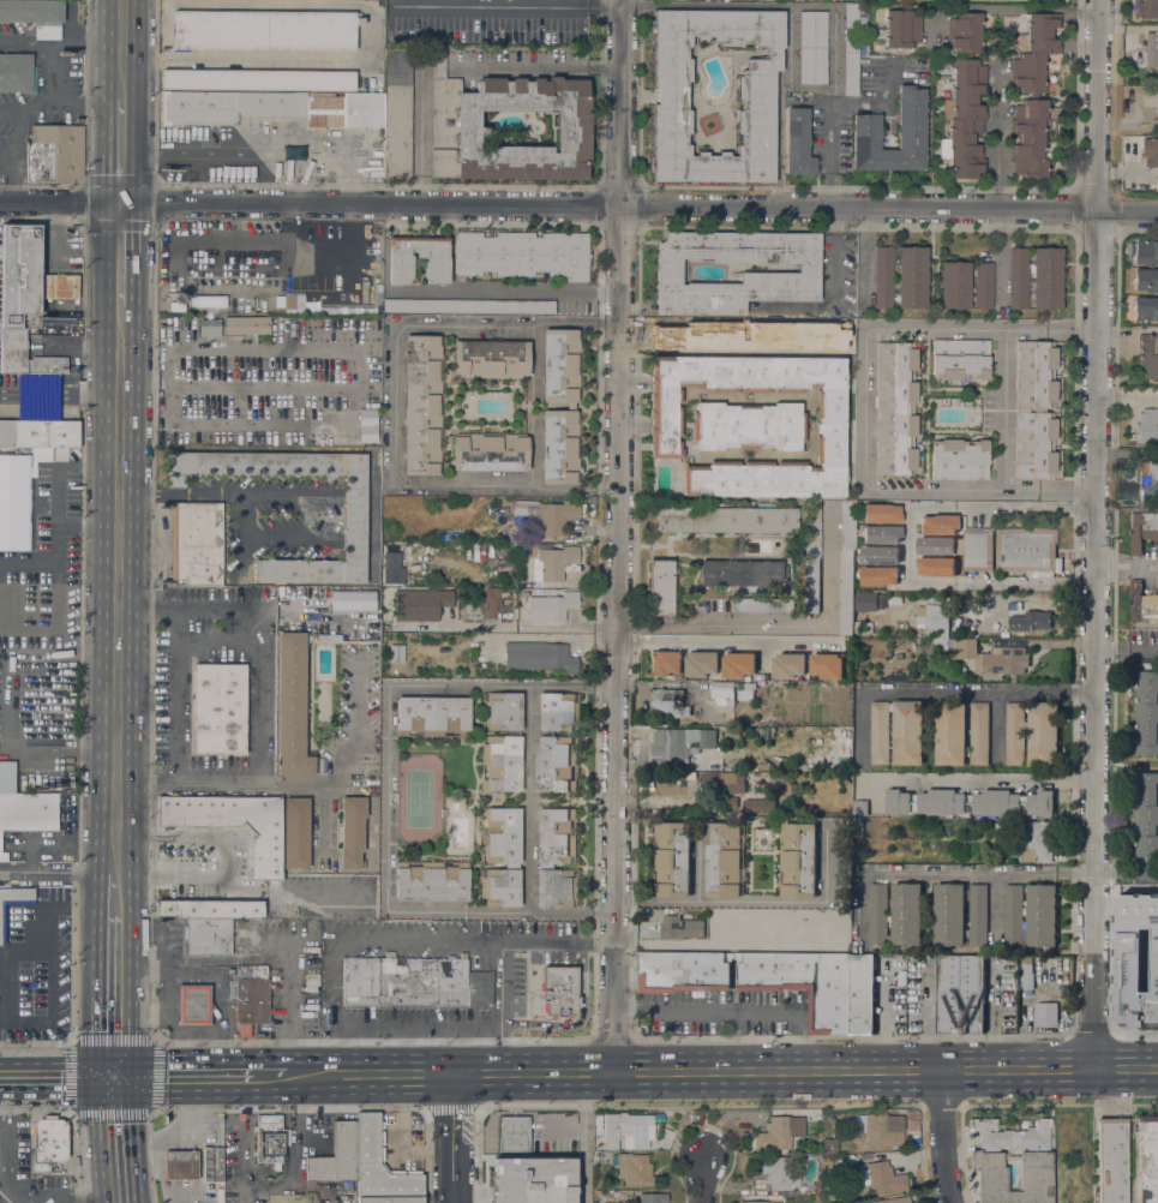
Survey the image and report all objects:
road: (281, 6)
road: (778, 6)
road: (1021, 7)
road: (511, 8)
building: (1146, 8)
building: (36, 16)
building: (902, 29)
building: (264, 30)
parking lot: (14, 31)
building: (965, 32)
road: (71, 35)
road: (88, 36)
road: (26, 42)
building: (812, 48)
building: (1151, 48)
road: (106, 49)
building: (851, 49)
building: (1036, 52)
road: (254, 61)
road: (536, 65)
road: (791, 71)
building: (17, 73)
road: (371, 74)
road: (53, 76)
building: (259, 79)
building: (756, 94)
building: (1150, 100)
road: (137, 101)
road: (26, 106)
road: (78, 106)
road: (829, 106)
building: (272, 108)
building: (397, 112)
building: (964, 118)
building: (455, 119)
building: (866, 122)
road: (19, 134)
building: (1031, 136)
road: (996, 138)
parking lot: (5, 140)
building: (798, 143)
road: (104, 150)
road: (208, 151)
road: (289, 151)
building: (1150, 151)
building: (54, 154)
road: (347, 156)
road: (7, 163)
building: (376, 163)
traffic signals: (104, 174)
road: (11, 181)
building: (1156, 182)
road: (578, 207)
road: (350, 221)
road: (290, 222)
traffic signals: (137, 232)
building: (1145, 252)
road: (137, 255)
building: (522, 255)
road: (174, 257)
building: (401, 259)
road: (1001, 259)
building: (912, 276)
building: (780, 277)
building: (883, 277)
building: (1019, 277)
building: (26, 279)
building: (1046, 279)
building: (1146, 280)
building: (954, 285)
building: (983, 285)
road: (508, 291)
road: (833, 292)
building: (205, 303)
building: (295, 304)
building: (467, 306)
building: (1145, 309)
building: (336, 310)
building: (686, 317)
road: (605, 321)
building: (245, 325)
building: (767, 327)
building: (209, 328)
building: (714, 329)
road: (1073, 329)
road: (1128, 329)
building: (670, 333)
building: (13, 343)
road: (136, 345)
road: (338, 349)
building: (1147, 357)
building: (491, 359)
building: (960, 359)
road: (119, 382)
road: (151, 382)
road: (1129, 396)
road: (50, 403)
road: (394, 403)
road: (864, 403)
road: (136, 405)
building: (422, 405)
building: (571, 406)
building: (895, 408)
road: (1004, 409)
building: (1034, 409)
building: (750, 424)
building: (1147, 424)
building: (367, 425)
road: (119, 427)
building: (38, 433)
building: (490, 451)
building: (959, 459)
building: (1147, 471)
road: (605, 489)
road: (1068, 490)
road: (284, 496)
road: (144, 497)
building: (16, 502)
road: (1031, 507)
building: (877, 514)
building: (547, 515)
building: (724, 519)
building: (354, 521)
building: (937, 525)
building: (1142, 529)
road: (238, 532)
road: (616, 534)
building: (881, 534)
road: (1099, 534)
road: (101, 537)
building: (497, 537)
building: (577, 540)
building: (460, 541)
building: (196, 544)
building: (937, 545)
road: (911, 546)
building: (977, 549)
building: (1026, 550)
building: (881, 555)
building: (812, 556)
building: (552, 562)
building: (391, 564)
road: (1114, 564)
road: (1142, 564)
building: (937, 565)
building: (846, 568)
building: (743, 574)
building: (881, 575)
building: (534, 585)
road: (1031, 586)
building: (660, 587)
building: (353, 600)
building: (866, 601)
building: (420, 604)
building: (762, 604)
building: (1142, 604)
building: (551, 606)
road: (827, 615)
building: (935, 616)
building: (1032, 620)
road: (672, 622)
road: (557, 636)
building: (328, 638)
road: (725, 640)
road: (218, 645)
road: (1128, 650)
building: (396, 653)
building: (540, 657)
building: (990, 658)
building: (664, 664)
building: (701, 664)
building: (738, 665)
building: (790, 665)
building: (827, 665)
building: (745, 688)
road: (1084, 690)
building: (722, 692)
road: (931, 692)
road: (174, 693)
road: (262, 695)
building: (671, 699)
road: (6, 700)
building: (292, 706)
building: (220, 708)
building: (1147, 712)
building: (432, 716)
building: (880, 732)
building: (908, 732)
building: (950, 732)
building: (1014, 732)
building: (979, 734)
building: (1043, 734)
road: (2, 741)
building: (500, 742)
building: (557, 742)
building: (680, 743)
road: (133, 752)
road: (346, 758)
road: (971, 777)
building: (725, 782)
road: (388, 796)
road: (528, 798)
building: (731, 801)
building: (970, 802)
building: (756, 804)
building: (23, 807)
building: (859, 813)
building: (1146, 814)
building: (295, 832)
building: (352, 832)
building: (1034, 842)
building: (500, 856)
building: (556, 856)
building: (672, 860)
building: (725, 860)
building: (798, 860)
building: (244, 866)
road: (48, 872)
road: (115, 873)
road: (953, 874)
road: (1127, 874)
building: (432, 882)
road: (97, 893)
road: (115, 902)
building: (13, 903)
road: (754, 903)
building: (895, 914)
building: (949, 914)
building: (978, 914)
building: (1013, 915)
building: (1042, 915)
building: (751, 917)
building: (680, 928)
road: (28, 935)
building: (206, 936)
road: (397, 936)
road: (500, 953)
building: (1136, 958)
road: (208, 962)
building: (1027, 977)
building: (413, 982)
building: (232, 987)
building: (559, 990)
building: (743, 993)
road: (96, 994)
building: (862, 994)
building: (960, 994)
building: (251, 995)
building: (193, 1005)
gas station: (193, 1005)
road: (284, 1006)
road: (708, 1009)
building: (1045, 1013)
traffic signals: (96, 1030)
road: (336, 1030)
road: (734, 1040)
road: (803, 1040)
road: (599, 1071)
road: (884, 1072)
road: (439, 1073)
road: (50, 1076)
traffic signals: (67, 1076)
traffic signals: (95, 1076)
road: (113, 1076)
traffic signals: (132, 1076)
traffic signals: (172, 1076)
road: (194, 1076)
road: (276, 1076)
road: (4, 1077)
road: (71, 1115)
traffic signals: (132, 1124)
road: (300, 1127)
building: (881, 1130)
building: (626, 1131)
building: (514, 1133)
building: (774, 1135)
road: (586, 1137)
road: (944, 1137)
road: (451, 1138)
road: (96, 1139)
road: (132, 1139)
building: (271, 1139)
building: (49, 1143)
building: (829, 1145)
road: (246, 1148)
building: (336, 1155)
building: (1146, 1159)
building: (985, 1160)
building: (1111, 1160)
building: (180, 1165)
gas station: (180, 1165)
building: (212, 1165)
building: (380, 1166)
parking lot: (24, 1168)
building: (632, 1168)
building: (776, 1172)
building: (880, 1178)
building: (533, 1179)
road: (703, 1180)
road: (7, 1181)
building: (817, 1184)
road: (246, 1190)
building: (596, 1193)
building: (653, 1198)
building: (290, 1199)
building: (390, 1201)
building: (894, 1201)
building: (757, 1202)

